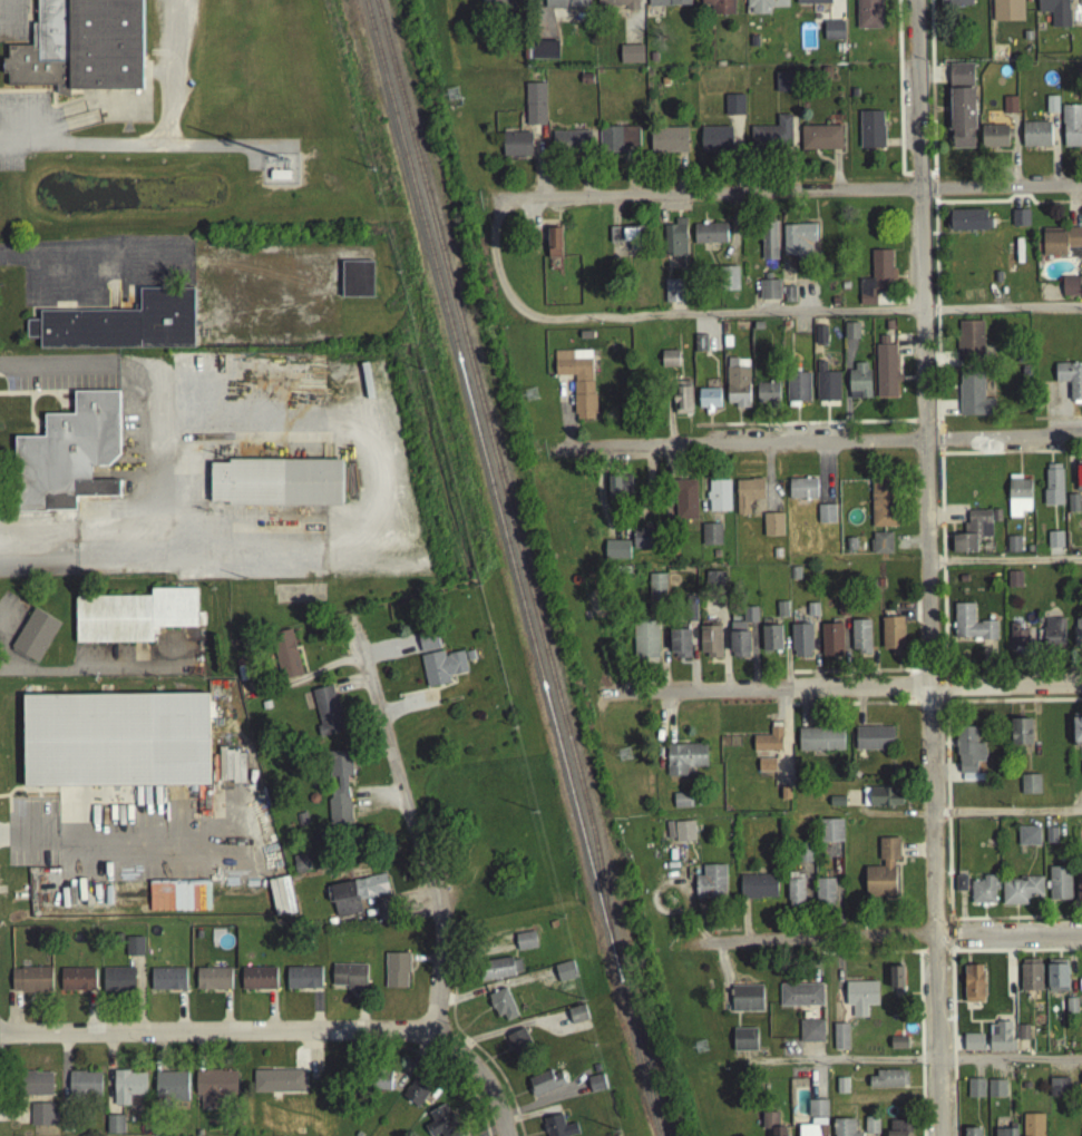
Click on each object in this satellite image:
building: (811, 3)
building: (667, 4)
building: (954, 4)
building: (493, 6)
building: (616, 6)
building: (566, 7)
building: (719, 8)
building: (763, 8)
building: (1006, 12)
building: (1053, 13)
building: (867, 17)
road: (8, 19)
parking lot: (12, 22)
building: (832, 35)
building: (81, 50)
building: (544, 55)
building: (631, 59)
road: (175, 76)
building: (959, 78)
building: (783, 87)
power tower: (455, 90)
road: (930, 91)
road: (898, 94)
building: (534, 109)
building: (733, 109)
building: (1008, 109)
building: (1051, 109)
road: (60, 118)
building: (962, 124)
road: (18, 126)
building: (1071, 130)
parking lot: (28, 134)
building: (870, 135)
building: (771, 139)
building: (1034, 139)
building: (993, 140)
building: (819, 141)
road: (147, 143)
building: (616, 144)
building: (715, 144)
building: (569, 145)
building: (667, 145)
road: (147, 148)
building: (516, 149)
road: (193, 153)
power substation: (276, 173)
road: (918, 179)
road: (933, 180)
road: (294, 190)
road: (933, 194)
road: (793, 195)
road: (1007, 203)
building: (1018, 222)
building: (968, 224)
building: (709, 237)
building: (626, 242)
building: (674, 243)
building: (768, 245)
building: (799, 246)
building: (554, 247)
building: (1061, 247)
road: (89, 258)
parking lot: (96, 273)
building: (876, 282)
building: (728, 283)
building: (357, 284)
building: (1070, 291)
building: (769, 294)
building: (673, 295)
road: (66, 298)
road: (935, 306)
road: (1001, 313)
road: (655, 320)
building: (121, 330)
building: (850, 335)
building: (820, 340)
building: (969, 344)
building: (700, 347)
building: (669, 363)
road: (55, 366)
building: (885, 374)
parking lot: (60, 378)
building: (577, 383)
building: (1070, 383)
road: (64, 384)
building: (858, 384)
building: (737, 386)
building: (826, 388)
power tower: (534, 391)
building: (797, 391)
building: (767, 398)
building: (973, 400)
building: (682, 402)
building: (708, 403)
road: (666, 410)
road: (939, 412)
road: (1061, 413)
road: (671, 422)
road: (680, 422)
road: (355, 423)
road: (1056, 423)
road: (918, 427)
road: (803, 428)
road: (688, 429)
road: (690, 431)
road: (688, 441)
road: (688, 445)
road: (821, 445)
road: (938, 448)
road: (1010, 457)
building: (67, 460)
railway: (501, 471)
building: (1078, 480)
building: (276, 488)
building: (1052, 489)
building: (618, 491)
building: (801, 493)
building: (747, 498)
building: (718, 500)
building: (1017, 500)
building: (684, 505)
building: (881, 508)
building: (1072, 508)
building: (825, 518)
building: (771, 529)
building: (972, 536)
building: (710, 539)
building: (646, 543)
building: (1053, 545)
building: (880, 548)
building: (1013, 549)
road: (88, 551)
building: (615, 554)
road: (942, 565)
road: (1003, 565)
railway: (515, 567)
road: (926, 568)
building: (1013, 584)
building: (713, 585)
building: (656, 591)
building: (841, 611)
building: (690, 614)
building: (781, 614)
building: (811, 615)
building: (396, 619)
building: (133, 620)
building: (969, 628)
parking lot: (11, 631)
building: (1052, 636)
building: (1076, 636)
building: (35, 639)
building: (741, 639)
building: (891, 639)
building: (1015, 639)
building: (859, 640)
building: (770, 643)
building: (830, 644)
building: (427, 645)
building: (644, 645)
building: (801, 645)
building: (710, 646)
building: (679, 647)
road: (3, 653)
road: (390, 653)
parking lot: (143, 659)
building: (285, 659)
road: (786, 659)
building: (439, 672)
road: (97, 673)
road: (323, 673)
road: (1010, 673)
road: (926, 675)
road: (852, 676)
road: (912, 676)
road: (788, 677)
road: (350, 688)
road: (845, 692)
road: (944, 692)
road: (907, 693)
road: (1011, 705)
road: (907, 706)
road: (847, 708)
road: (927, 708)
road: (407, 709)
building: (325, 716)
road: (782, 735)
building: (1020, 736)
building: (1076, 736)
building: (873, 743)
building: (819, 744)
building: (115, 745)
building: (767, 745)
power tower: (626, 752)
building: (967, 757)
building: (683, 763)
building: (766, 770)
building: (231, 771)
building: (1029, 789)
building: (339, 795)
road: (383, 800)
building: (881, 801)
building: (681, 804)
road: (946, 816)
road: (1006, 816)
building: (680, 835)
building: (830, 835)
building: (1050, 840)
building: (1027, 841)
parking lot: (145, 843)
road: (127, 844)
building: (803, 856)
building: (301, 868)
building: (883, 873)
parking lot: (2, 879)
building: (710, 887)
building: (959, 888)
building: (1059, 888)
road: (432, 891)
building: (757, 891)
building: (1079, 892)
building: (983, 894)
building: (823, 895)
building: (1020, 895)
building: (795, 897)
building: (354, 899)
building: (191, 901)
building: (281, 901)
road: (406, 908)
road: (1012, 923)
road: (949, 941)
road: (889, 942)
building: (524, 944)
building: (133, 951)
road: (477, 951)
road: (1014, 956)
road: (935, 957)
road: (869, 958)
road: (423, 962)
road: (815, 967)
building: (495, 972)
building: (394, 973)
building: (563, 976)
building: (348, 980)
building: (1030, 980)
building: (302, 982)
building: (895, 982)
building: (1056, 982)
building: (118, 983)
building: (166, 983)
building: (257, 983)
building: (31, 985)
building: (76, 985)
building: (212, 985)
building: (972, 988)
road: (493, 991)
road: (139, 1000)
building: (800, 1000)
road: (481, 1001)
building: (860, 1001)
building: (745, 1002)
building: (501, 1009)
road: (315, 1016)
road: (362, 1016)
road: (179, 1017)
road: (225, 1017)
road: (271, 1017)
building: (576, 1019)
road: (13, 1020)
road: (94, 1020)
road: (472, 1022)
road: (508, 1034)
building: (810, 1036)
road: (213, 1039)
building: (839, 1041)
building: (1000, 1041)
road: (503, 1044)
building: (744, 1044)
road: (952, 1044)
power tower: (700, 1046)
road: (919, 1046)
building: (897, 1047)
building: (972, 1047)
building: (518, 1049)
road: (475, 1054)
road: (157, 1056)
road: (201, 1056)
road: (312, 1057)
road: (501, 1057)
road: (488, 1064)
road: (908, 1065)
road: (412, 1068)
road: (64, 1073)
road: (454, 1079)
road: (109, 1080)
building: (887, 1084)
building: (1081, 1084)
building: (277, 1085)
building: (378, 1085)
building: (84, 1087)
building: (544, 1087)
building: (35, 1088)
building: (594, 1088)
building: (840, 1089)
building: (1057, 1090)
building: (126, 1091)
building: (170, 1091)
building: (213, 1093)
building: (975, 1093)
building: (995, 1093)
building: (416, 1096)
road: (519, 1098)
road: (530, 1101)
road: (542, 1106)
building: (42, 1119)
road: (526, 1119)
road: (14, 1120)
building: (815, 1122)
building: (441, 1125)
building: (769, 1126)
road: (538, 1127)
building: (1032, 1127)
building: (114, 1128)
building: (556, 1128)
building: (870, 1128)
building: (842, 1129)
building: (898, 1130)
road: (494, 1133)
building: (1081, 1133)
building: (972, 1134)
building: (1005, 1134)

